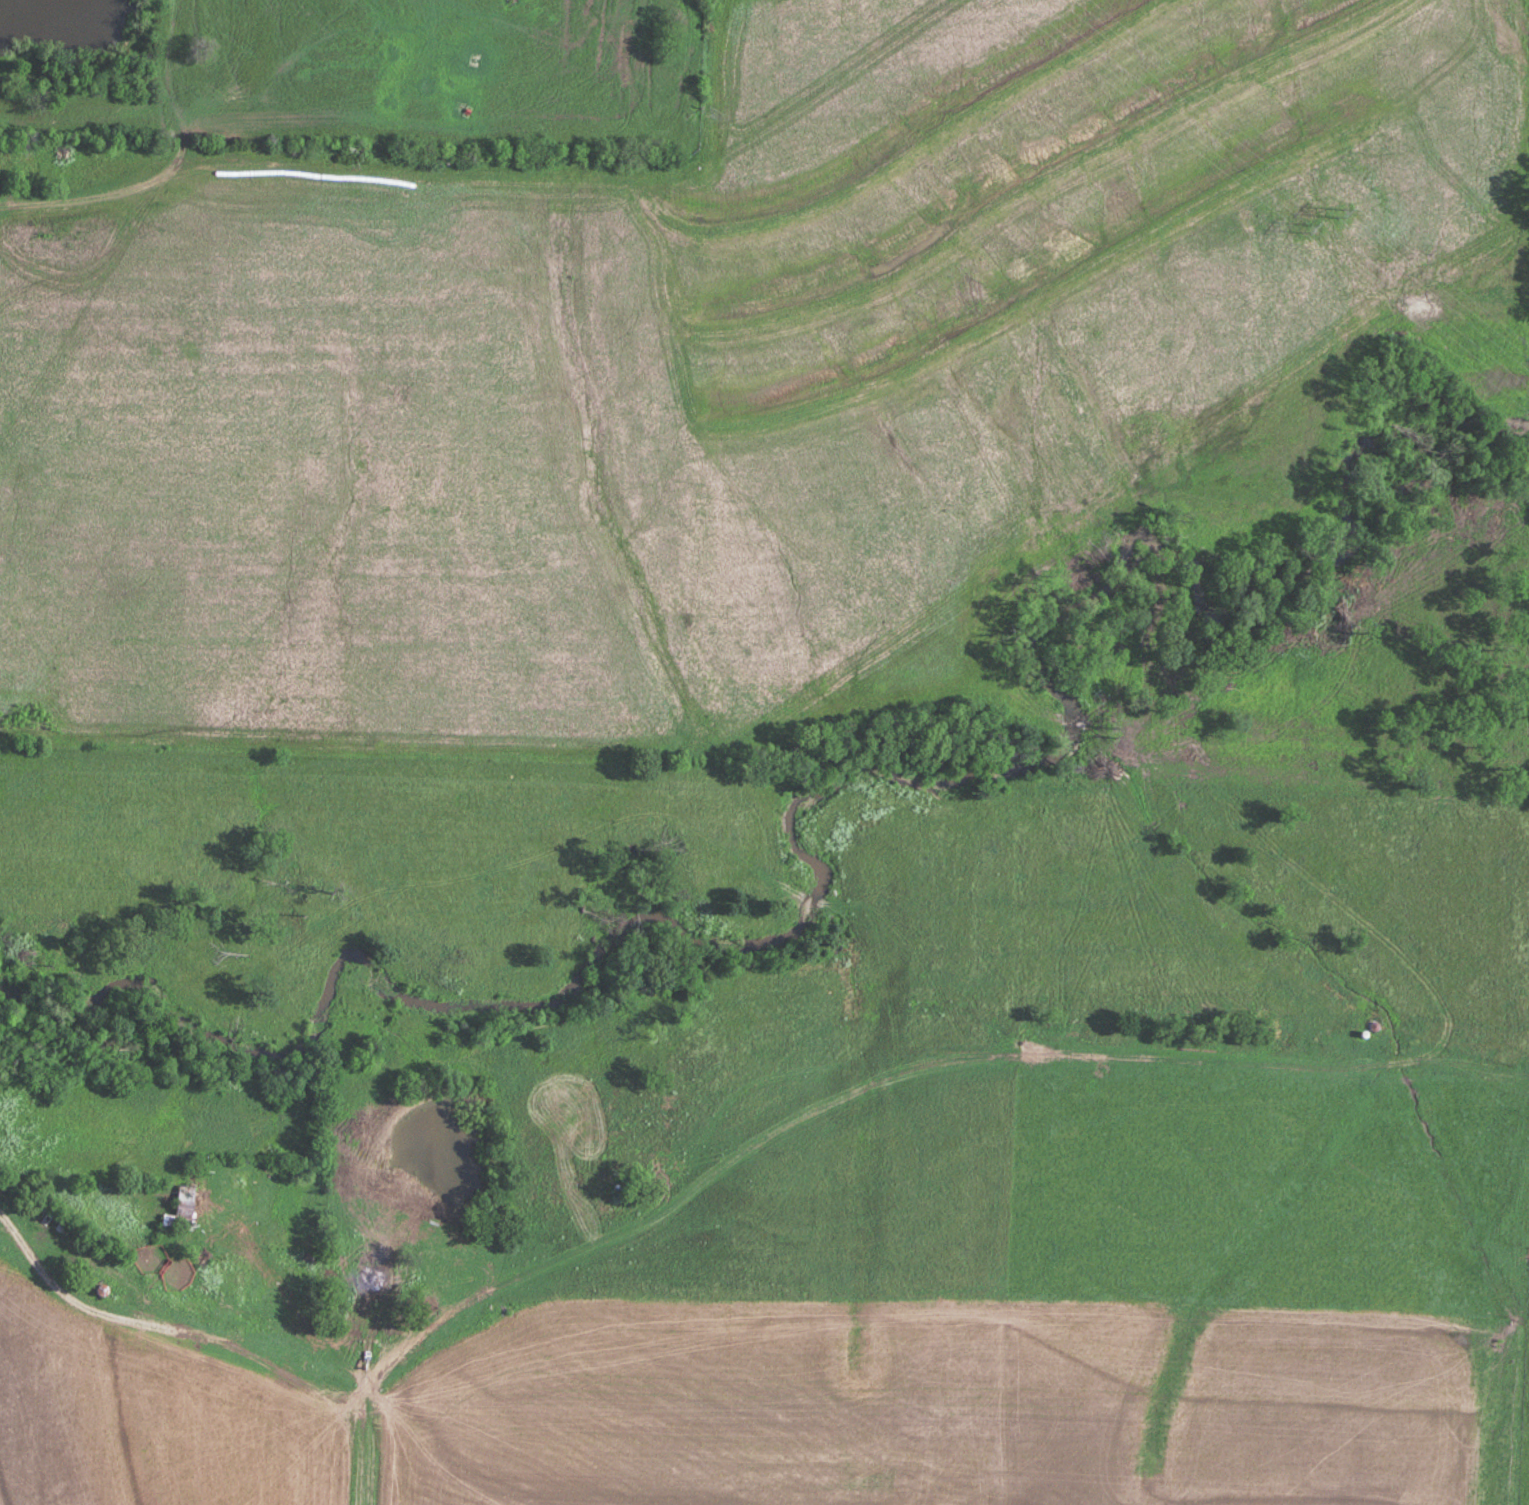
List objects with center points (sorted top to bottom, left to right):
power tower: (1339, 202)
power tower: (1308, 229)
building: (182, 1209)
building: (219, 1284)
road: (165, 1325)
road: (368, 1451)

